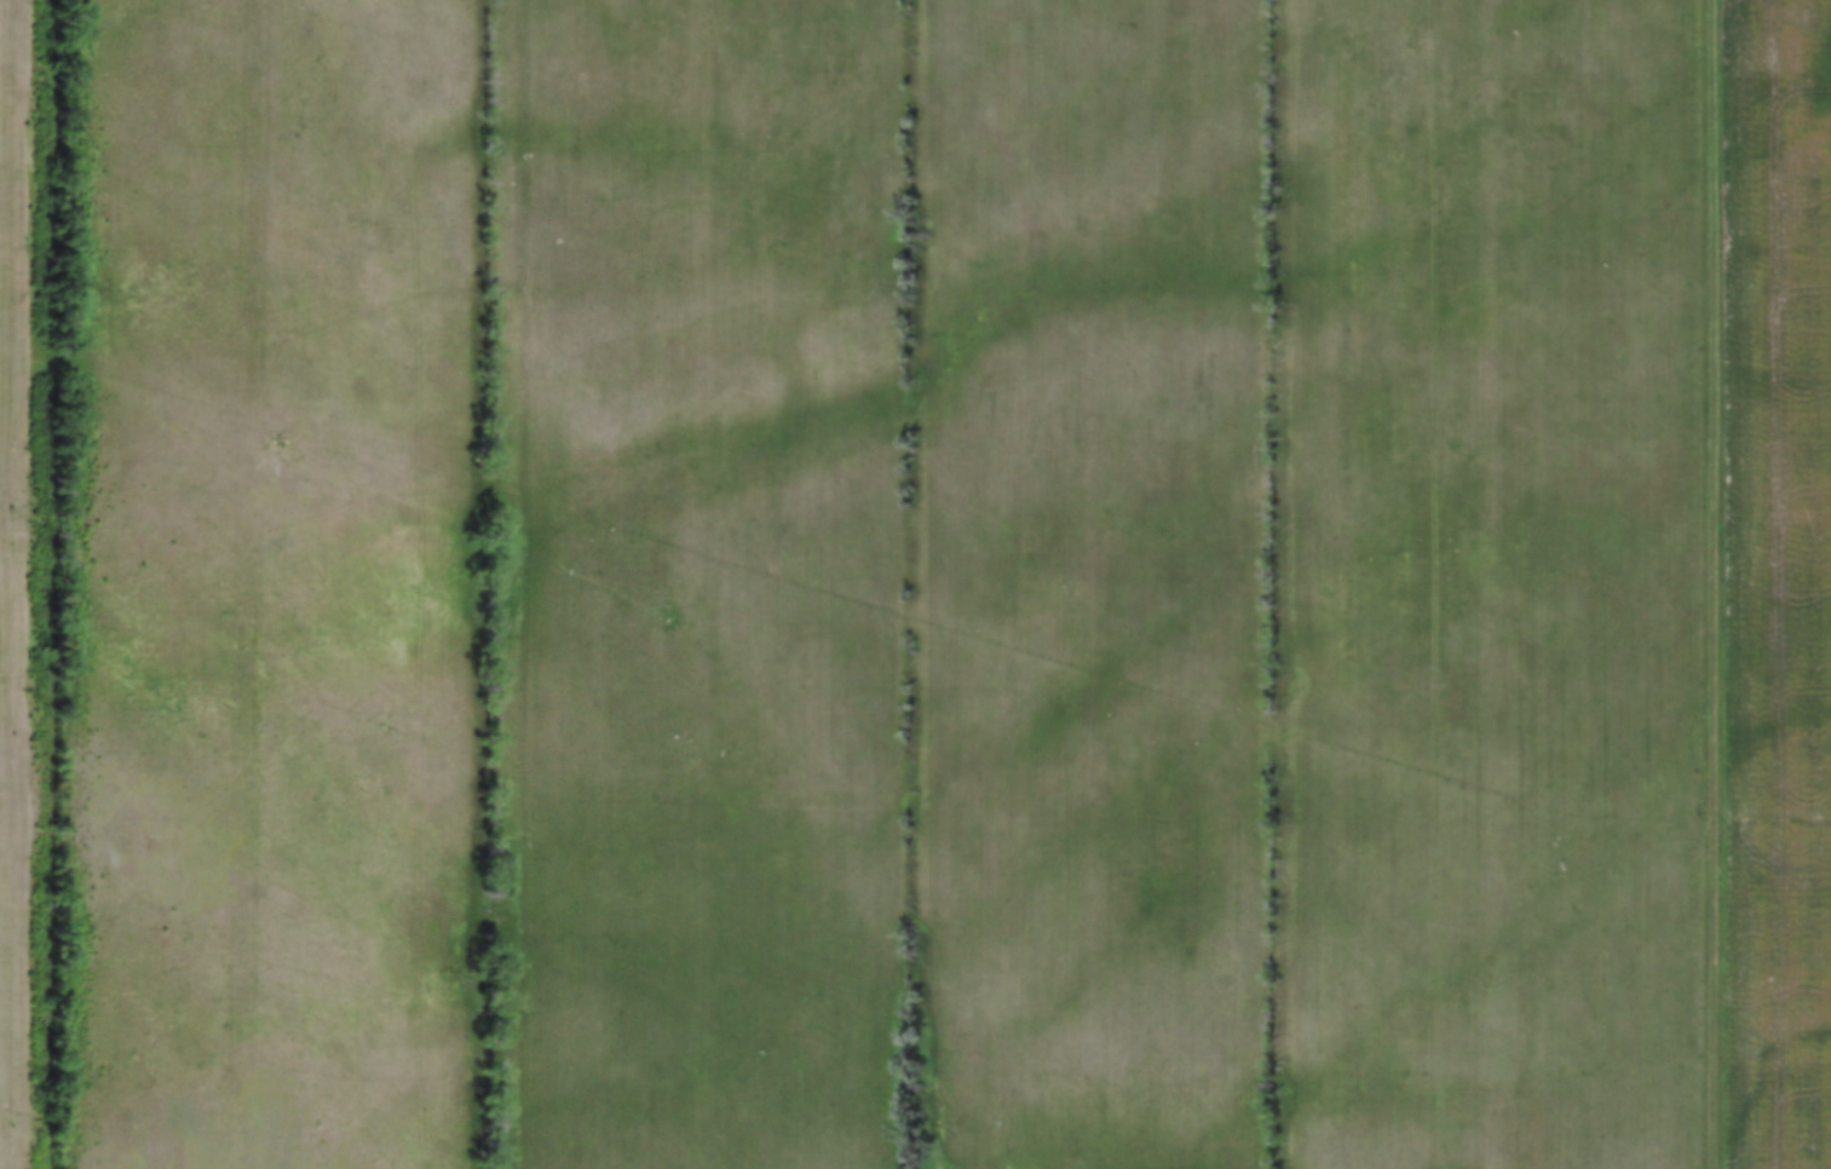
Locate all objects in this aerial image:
road: (1702, 583)

